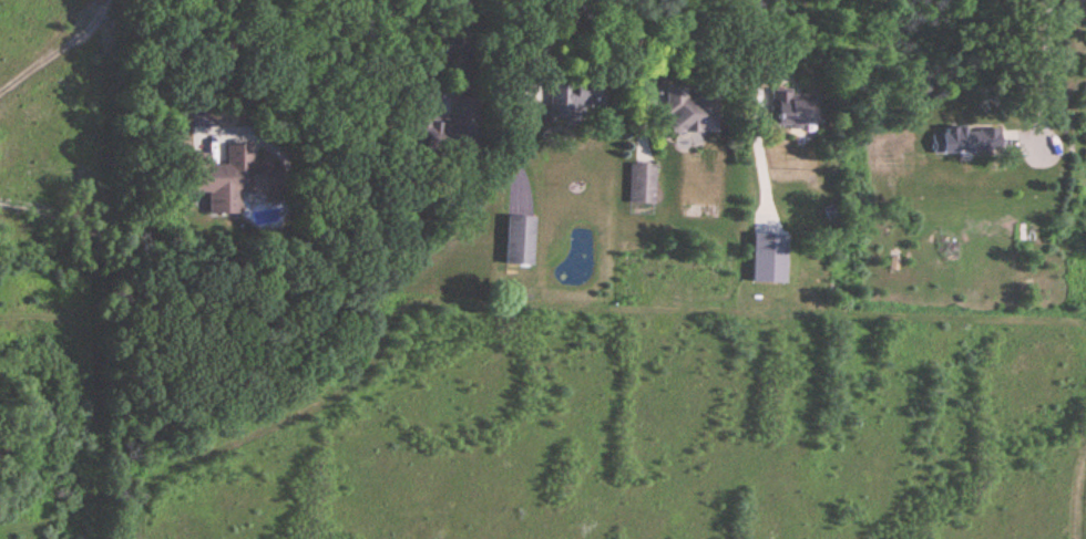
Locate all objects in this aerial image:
road: (219, 13)
road: (465, 37)
road: (752, 58)
road: (1041, 74)
building: (575, 100)
building: (798, 110)
building: (690, 112)
road: (221, 131)
building: (431, 132)
building: (966, 142)
building: (226, 179)
building: (644, 184)
building: (520, 219)
crop: (51, 266)
crop: (657, 432)

